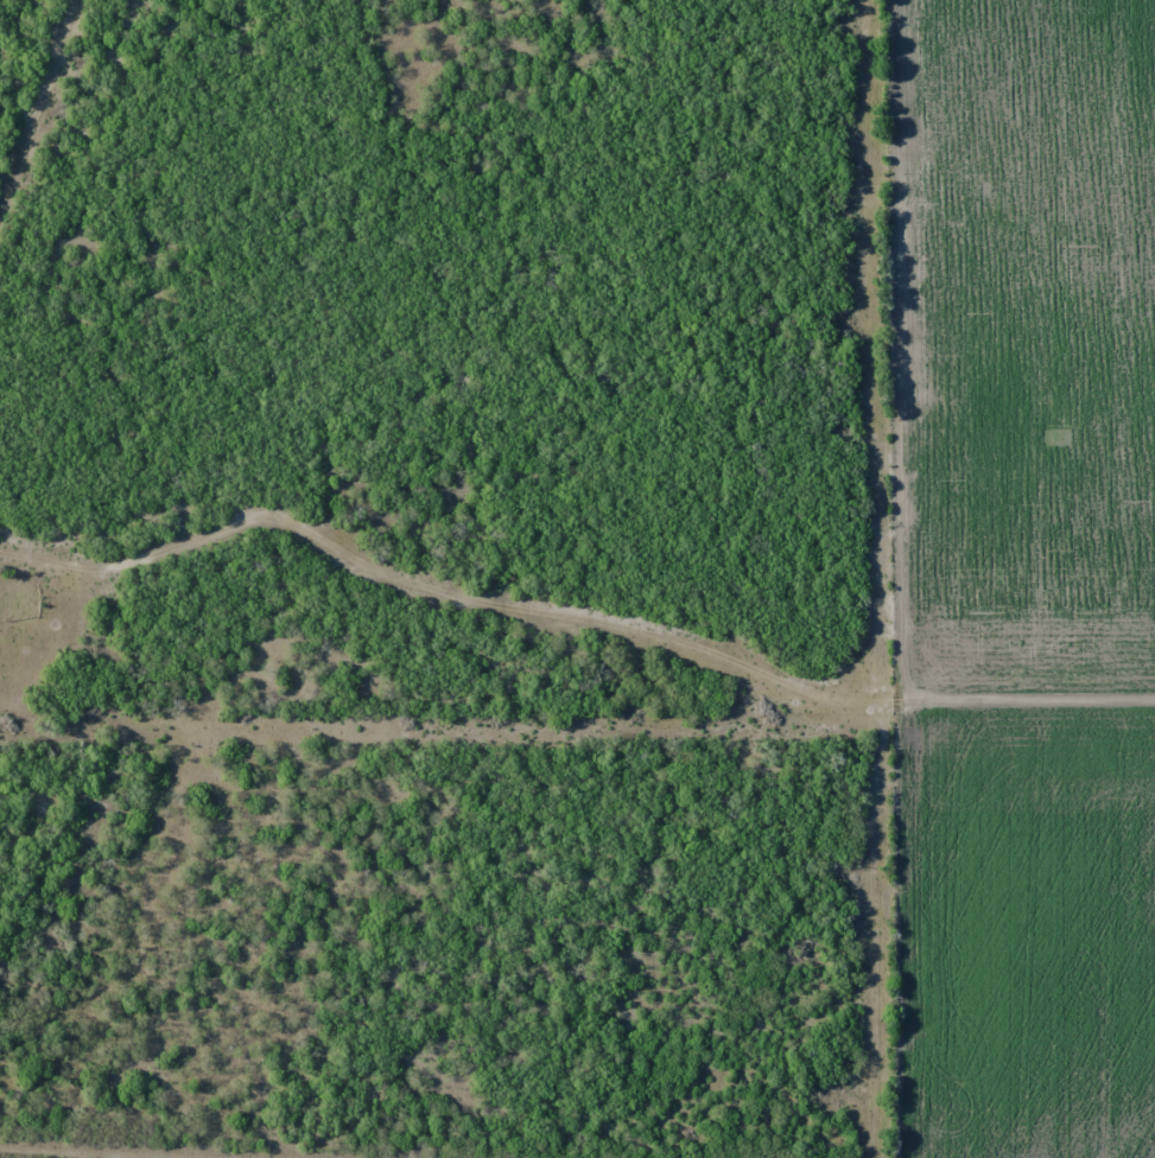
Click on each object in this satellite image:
road: (577, 719)

